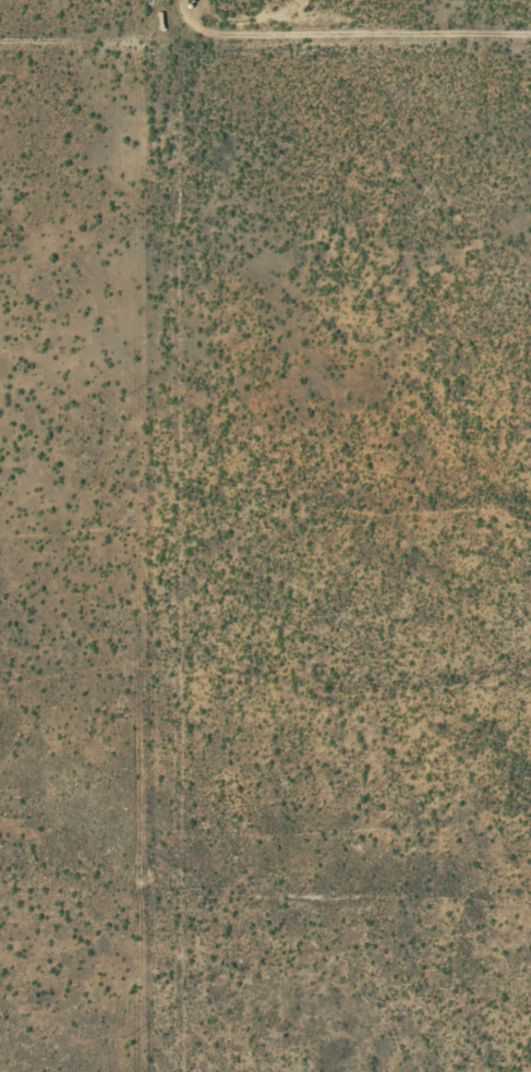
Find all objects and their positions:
road: (64, 26)
road: (329, 32)
road: (126, 551)

